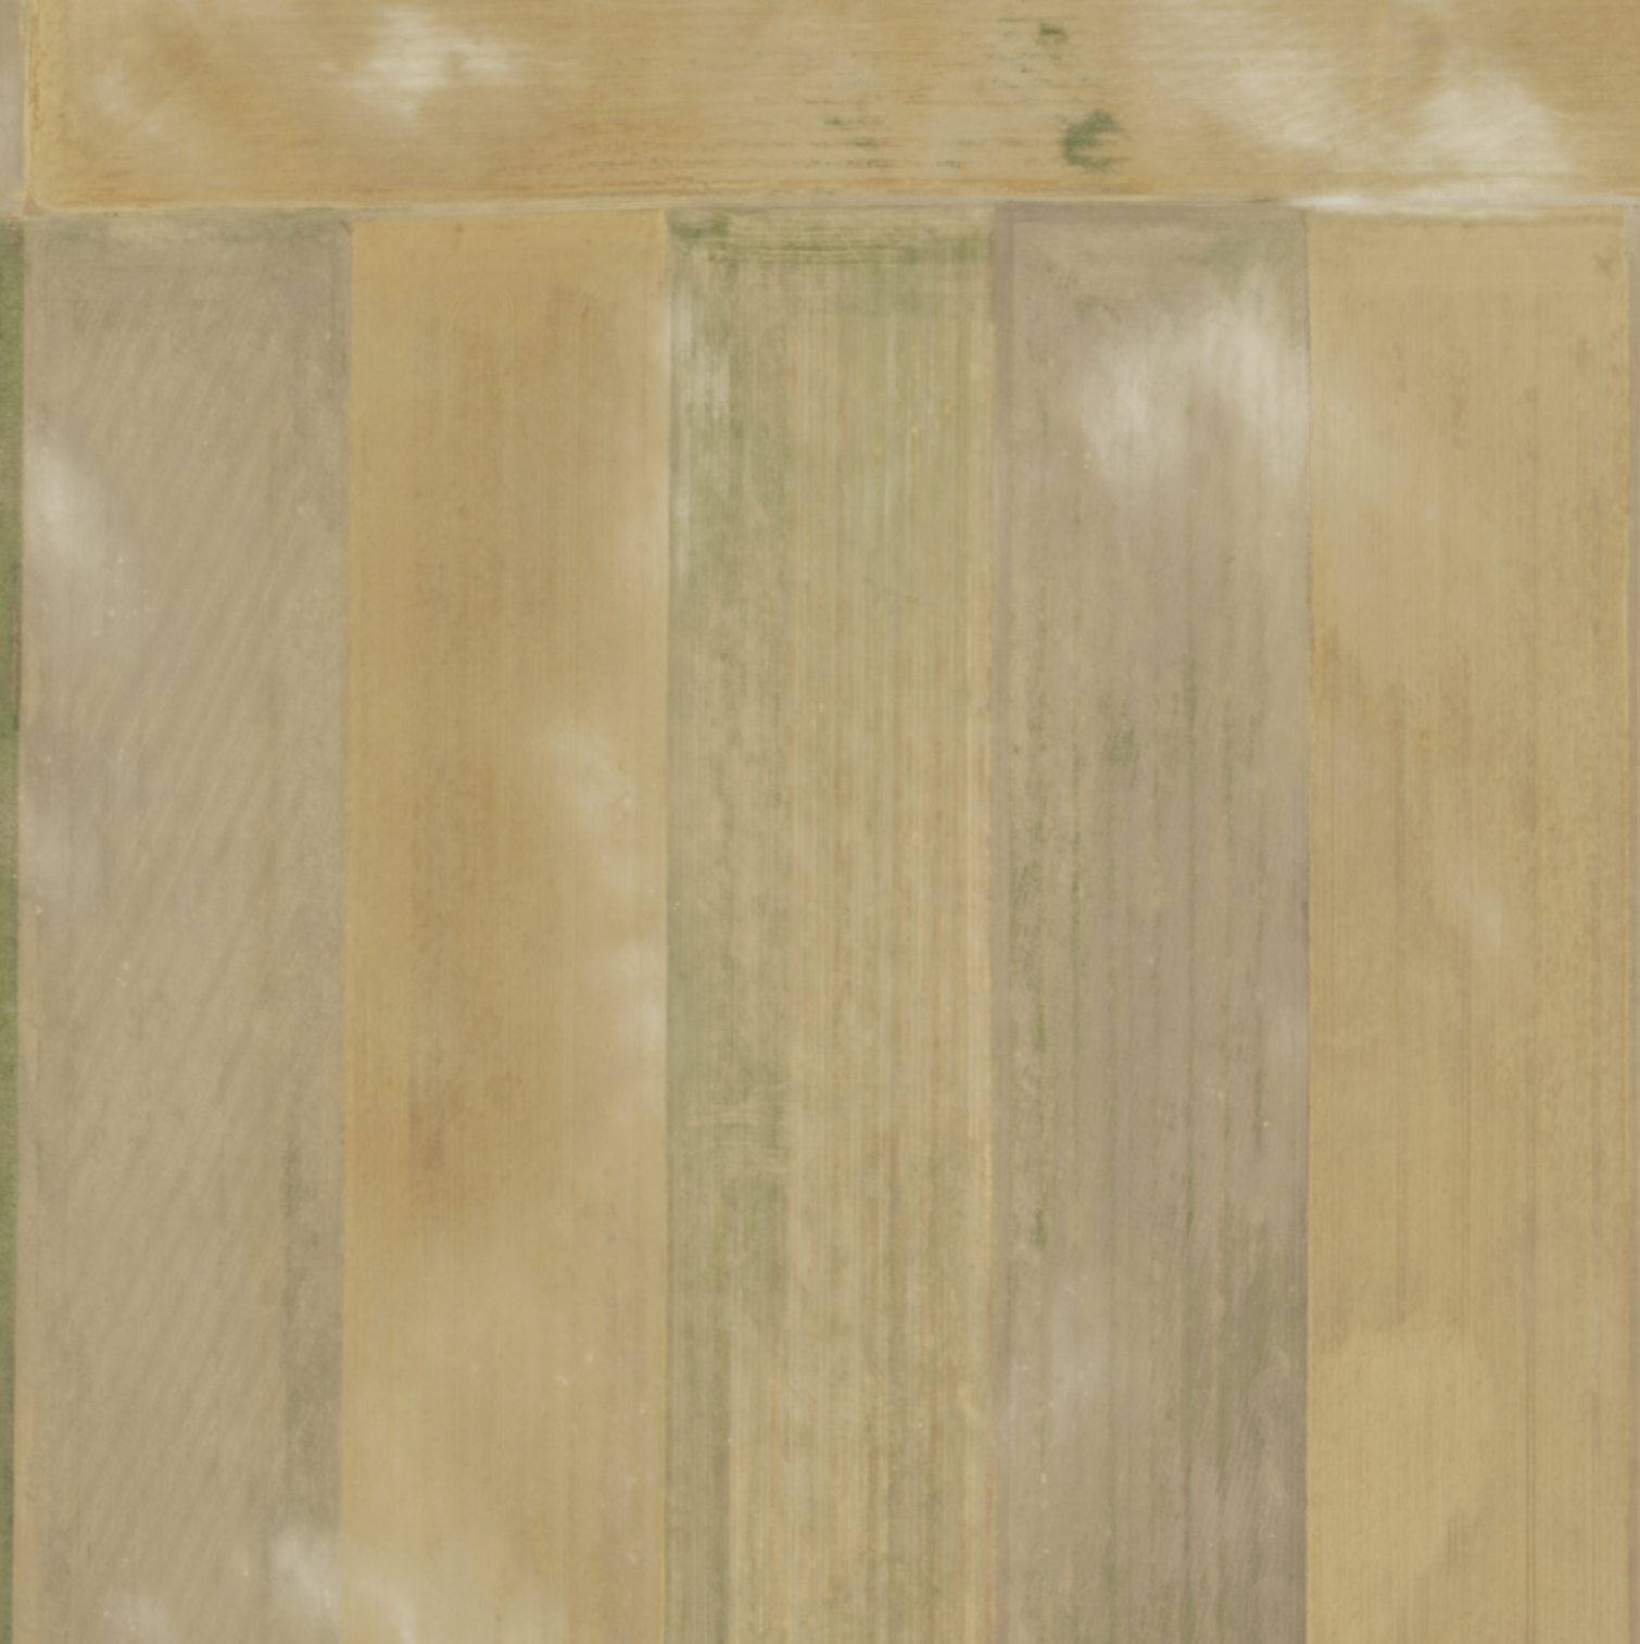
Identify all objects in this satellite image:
road: (820, 198)
crop: (820, 821)

